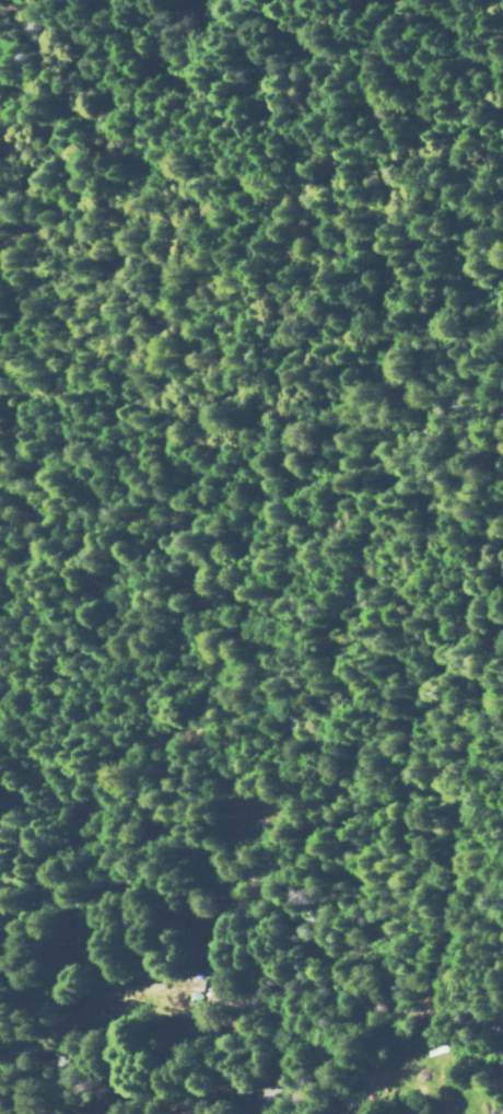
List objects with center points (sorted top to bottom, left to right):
road: (402, 675)

